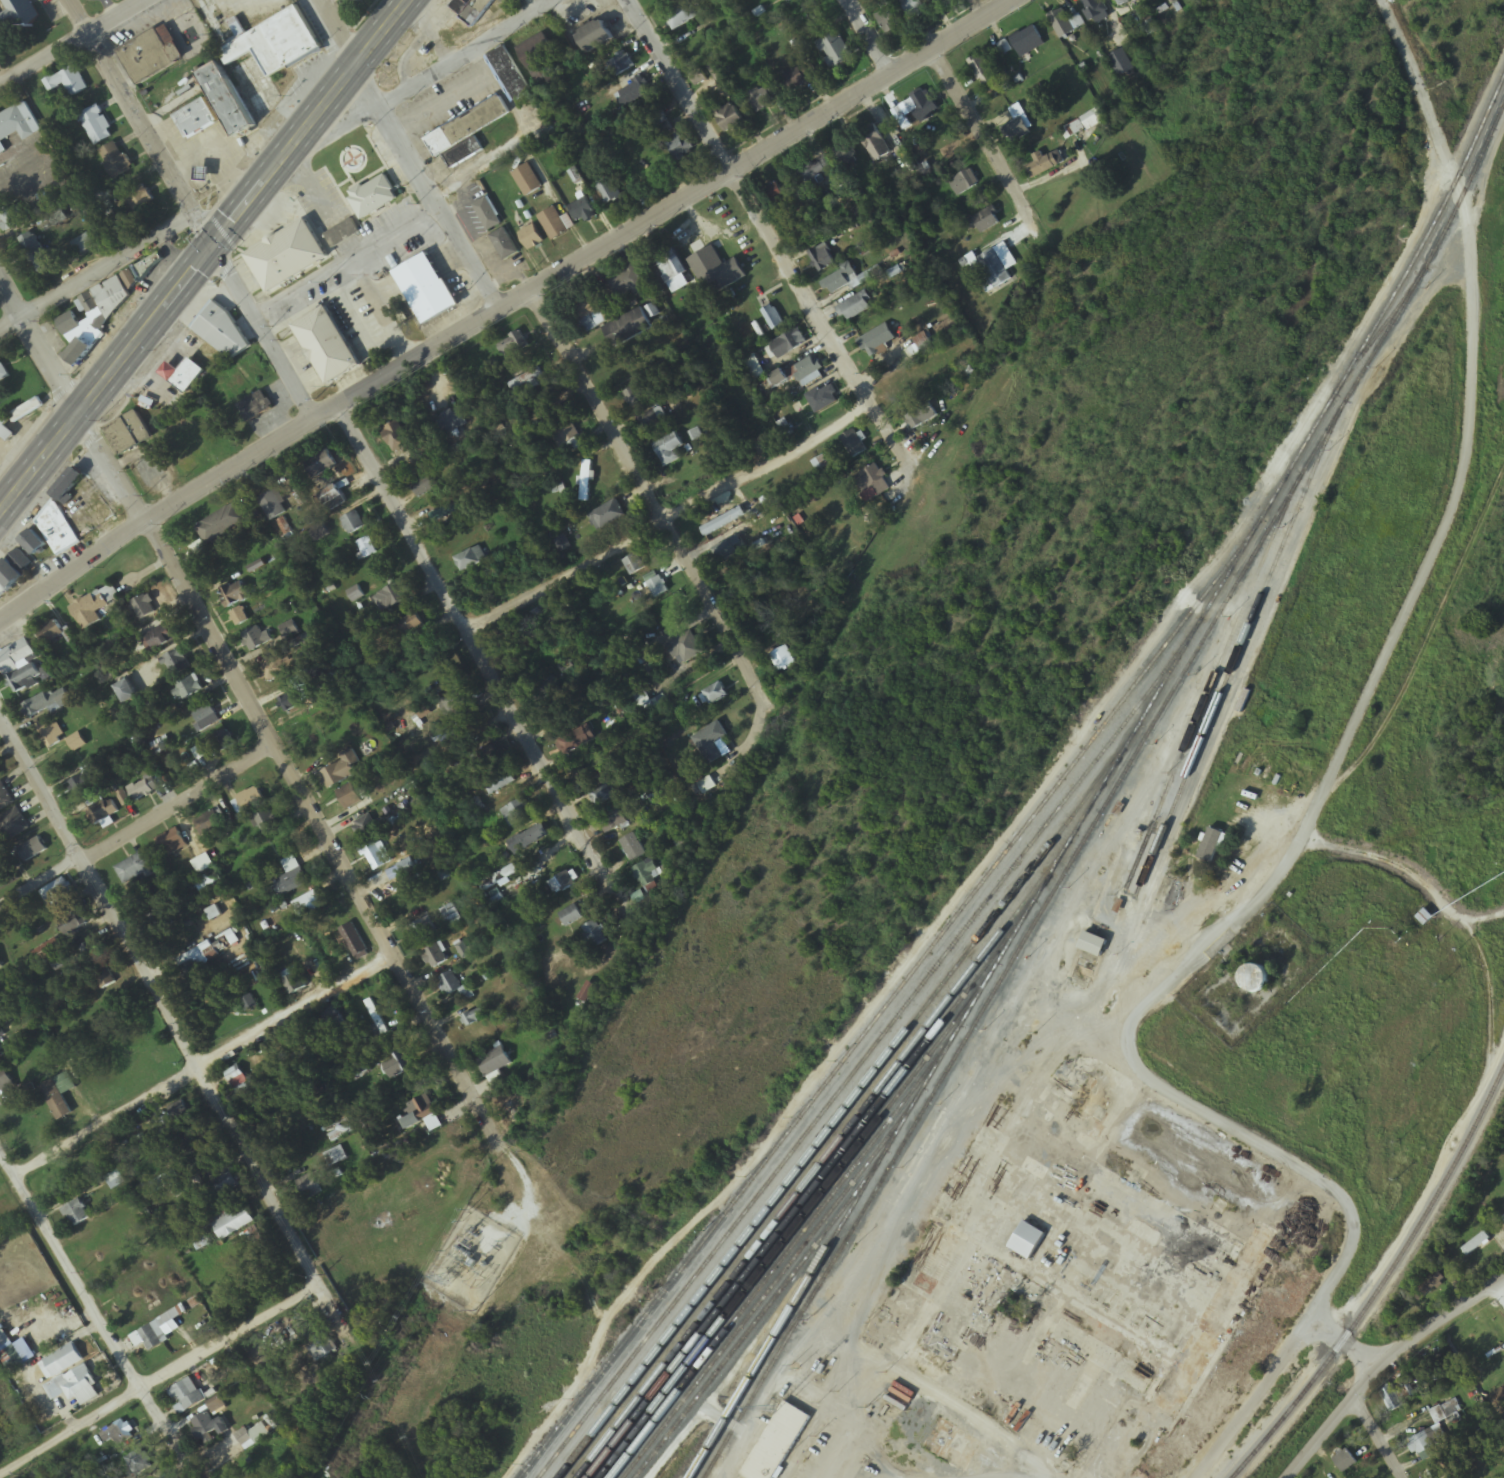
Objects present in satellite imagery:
building: (788, 0)
building: (1116, 0)
building: (940, 1)
building: (914, 8)
building: (472, 10)
building: (1095, 11)
building: (684, 15)
building: (15, 17)
building: (889, 21)
building: (1065, 24)
building: (237, 28)
building: (595, 37)
road: (868, 37)
building: (1026, 40)
road: (74, 45)
building: (835, 50)
building: (151, 55)
building: (538, 57)
building: (1121, 63)
road: (445, 65)
building: (620, 66)
building: (258, 69)
building: (508, 75)
building: (985, 78)
building: (796, 79)
building: (68, 82)
building: (635, 92)
building: (762, 100)
building: (922, 107)
building: (729, 118)
building: (196, 120)
building: (661, 122)
building: (17, 125)
building: (1086, 125)
building: (97, 126)
building: (468, 127)
building: (1018, 130)
building: (874, 143)
road: (989, 145)
building: (679, 148)
building: (463, 154)
building: (116, 160)
building: (1043, 166)
building: (816, 170)
building: (203, 175)
building: (527, 181)
building: (964, 183)
building: (609, 193)
building: (776, 197)
building: (140, 199)
road: (749, 203)
road: (438, 208)
road: (188, 209)
building: (582, 210)
building: (488, 215)
building: (11, 219)
building: (986, 221)
building: (553, 224)
building: (342, 233)
building: (531, 238)
building: (84, 245)
building: (504, 245)
traffic signals: (211, 248)
building: (36, 255)
road: (204, 255)
building: (287, 257)
building: (821, 259)
building: (671, 265)
building: (993, 269)
building: (717, 272)
road: (96, 273)
building: (139, 273)
building: (842, 280)
building: (627, 284)
building: (426, 289)
road: (505, 305)
building: (856, 307)
building: (586, 313)
building: (773, 318)
building: (94, 319)
building: (628, 329)
building: (222, 334)
building: (877, 340)
building: (789, 344)
building: (513, 345)
building: (326, 347)
railway: (1366, 348)
building: (809, 372)
building: (3, 374)
building: (182, 375)
building: (529, 381)
building: (904, 389)
building: (633, 397)
building: (823, 399)
building: (256, 407)
building: (26, 411)
building: (921, 417)
building: (651, 421)
road: (888, 431)
building: (129, 434)
building: (396, 438)
building: (853, 445)
building: (430, 448)
building: (668, 450)
building: (322, 468)
building: (586, 480)
building: (877, 484)
building: (68, 487)
road: (651, 493)
building: (331, 496)
building: (273, 506)
building: (608, 516)
road: (670, 520)
building: (353, 524)
building: (222, 525)
building: (283, 527)
building: (57, 531)
building: (34, 544)
building: (368, 548)
building: (727, 552)
building: (471, 559)
building: (635, 565)
building: (14, 573)
building: (657, 588)
building: (234, 595)
building: (391, 598)
building: (94, 607)
building: (144, 608)
building: (239, 617)
building: (409, 626)
building: (289, 631)
building: (50, 633)
building: (163, 639)
road: (468, 639)
building: (258, 641)
building: (683, 646)
building: (644, 655)
railway: (1236, 656)
building: (177, 664)
building: (19, 667)
building: (441, 679)
railway: (1210, 684)
building: (189, 688)
building: (545, 689)
building: (126, 693)
building: (715, 695)
building: (292, 701)
building: (46, 704)
building: (206, 719)
road: (262, 731)
building: (47, 735)
building: (311, 740)
building: (77, 743)
building: (222, 743)
building: (711, 743)
building: (485, 760)
building: (340, 772)
building: (499, 782)
building: (83, 785)
building: (143, 790)
building: (604, 795)
railway: (1111, 796)
building: (4, 798)
building: (348, 798)
railway: (1046, 798)
building: (250, 801)
building: (109, 809)
building: (516, 814)
building: (613, 822)
building: (265, 823)
building: (208, 824)
building: (13, 826)
road: (134, 827)
road: (1304, 831)
building: (529, 840)
building: (370, 843)
building: (172, 844)
building: (1211, 847)
building: (633, 849)
building: (32, 850)
building: (407, 868)
building: (134, 870)
building: (648, 874)
building: (291, 879)
building: (499, 880)
building: (562, 884)
building: (58, 895)
building: (309, 906)
building: (452, 917)
building: (571, 918)
building: (1425, 918)
building: (159, 922)
building: (74, 927)
building: (424, 933)
building: (594, 937)
building: (354, 943)
building: (1093, 945)
building: (464, 952)
building: (90, 953)
building: (435, 958)
building: (192, 971)
building: (104, 978)
building: (1256, 980)
building: (295, 985)
building: (451, 986)
railway: (980, 993)
building: (475, 1018)
building: (334, 1023)
road: (175, 1032)
building: (495, 1062)
building: (396, 1066)
railway: (861, 1066)
road: (203, 1069)
building: (5, 1082)
building: (240, 1082)
building: (59, 1095)
building: (422, 1115)
railway: (838, 1120)
building: (340, 1131)
building: (336, 1157)
building: (207, 1163)
railway: (814, 1172)
building: (115, 1180)
building: (309, 1187)
building: (226, 1189)
building: (76, 1214)
building: (233, 1223)
building: (1477, 1245)
power substation: (471, 1261)
power tower: (447, 1280)
railway: (1382, 1282)
building: (1431, 1287)
road: (91, 1310)
building: (308, 1325)
road: (1346, 1344)
building: (15, 1349)
building: (321, 1349)
railway: (775, 1349)
building: (65, 1361)
road: (1387, 1366)
road: (156, 1378)
building: (75, 1387)
building: (187, 1396)
power tower: (377, 1396)
building: (1393, 1398)
building: (1450, 1411)
building: (207, 1426)
building: (119, 1434)
building: (253, 1437)
road: (1375, 1440)
building: (1427, 1441)
building: (777, 1443)
building: (953, 1445)
building: (138, 1461)
building: (1347, 1464)
railway: (709, 1471)
building: (1435, 1472)
road: (1012, 1476)

